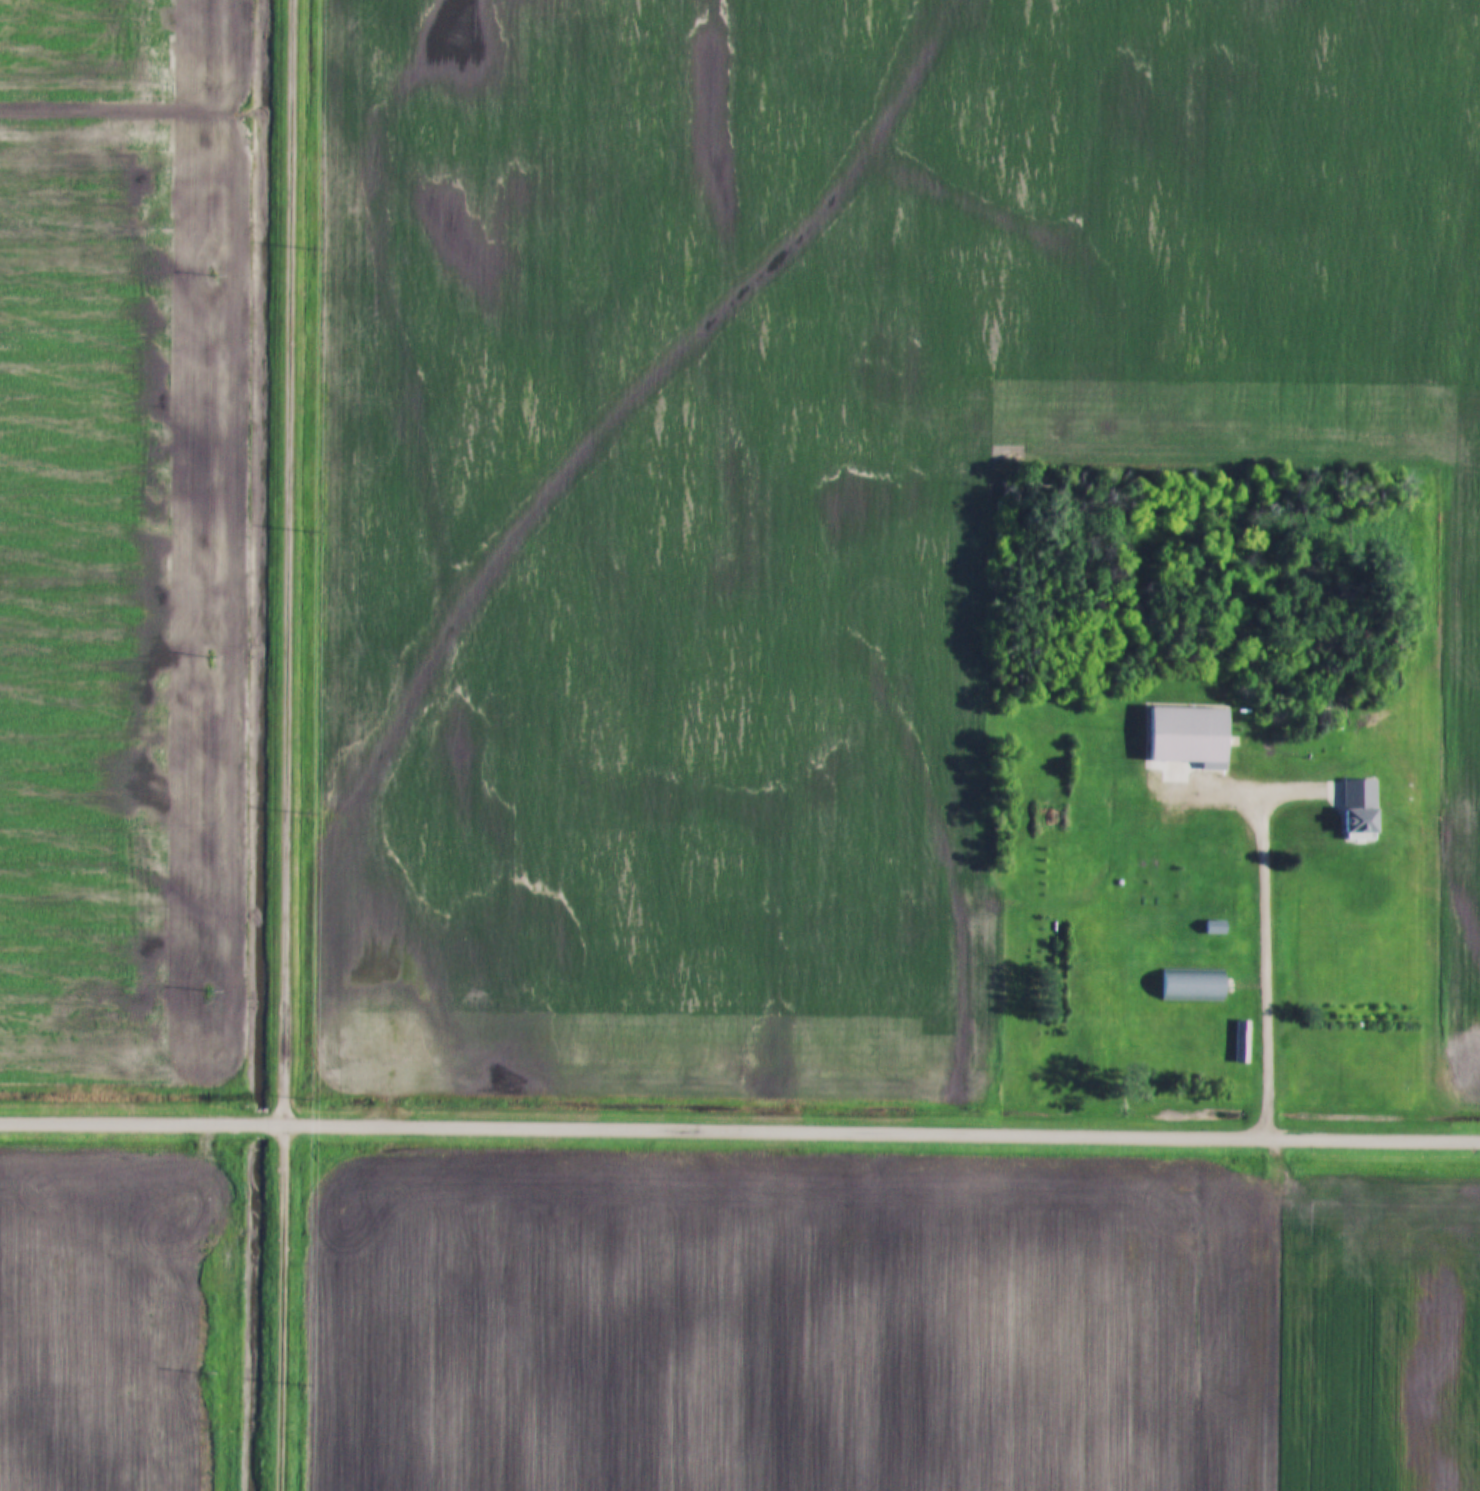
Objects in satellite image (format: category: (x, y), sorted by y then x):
road: (279, 745)
road: (1268, 939)
road: (740, 1132)

